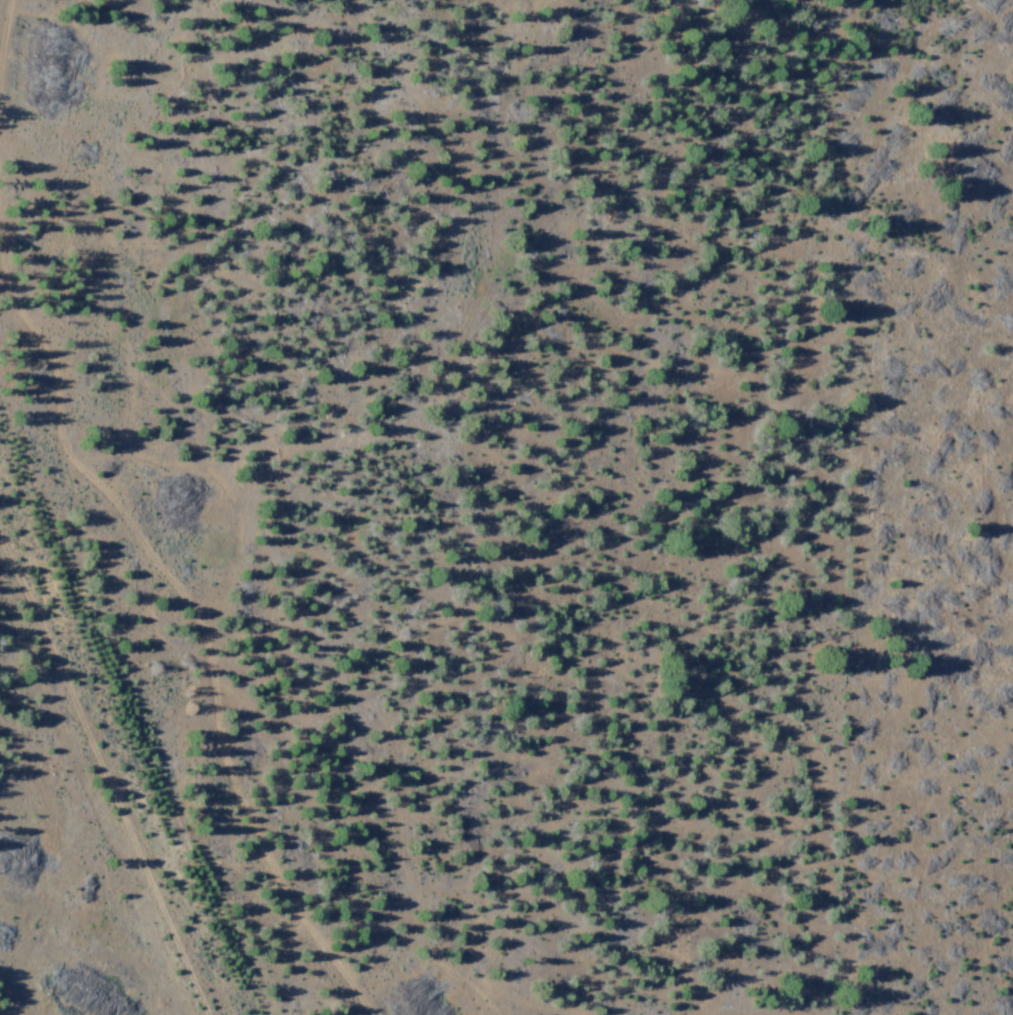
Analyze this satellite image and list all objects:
road: (105, 778)

